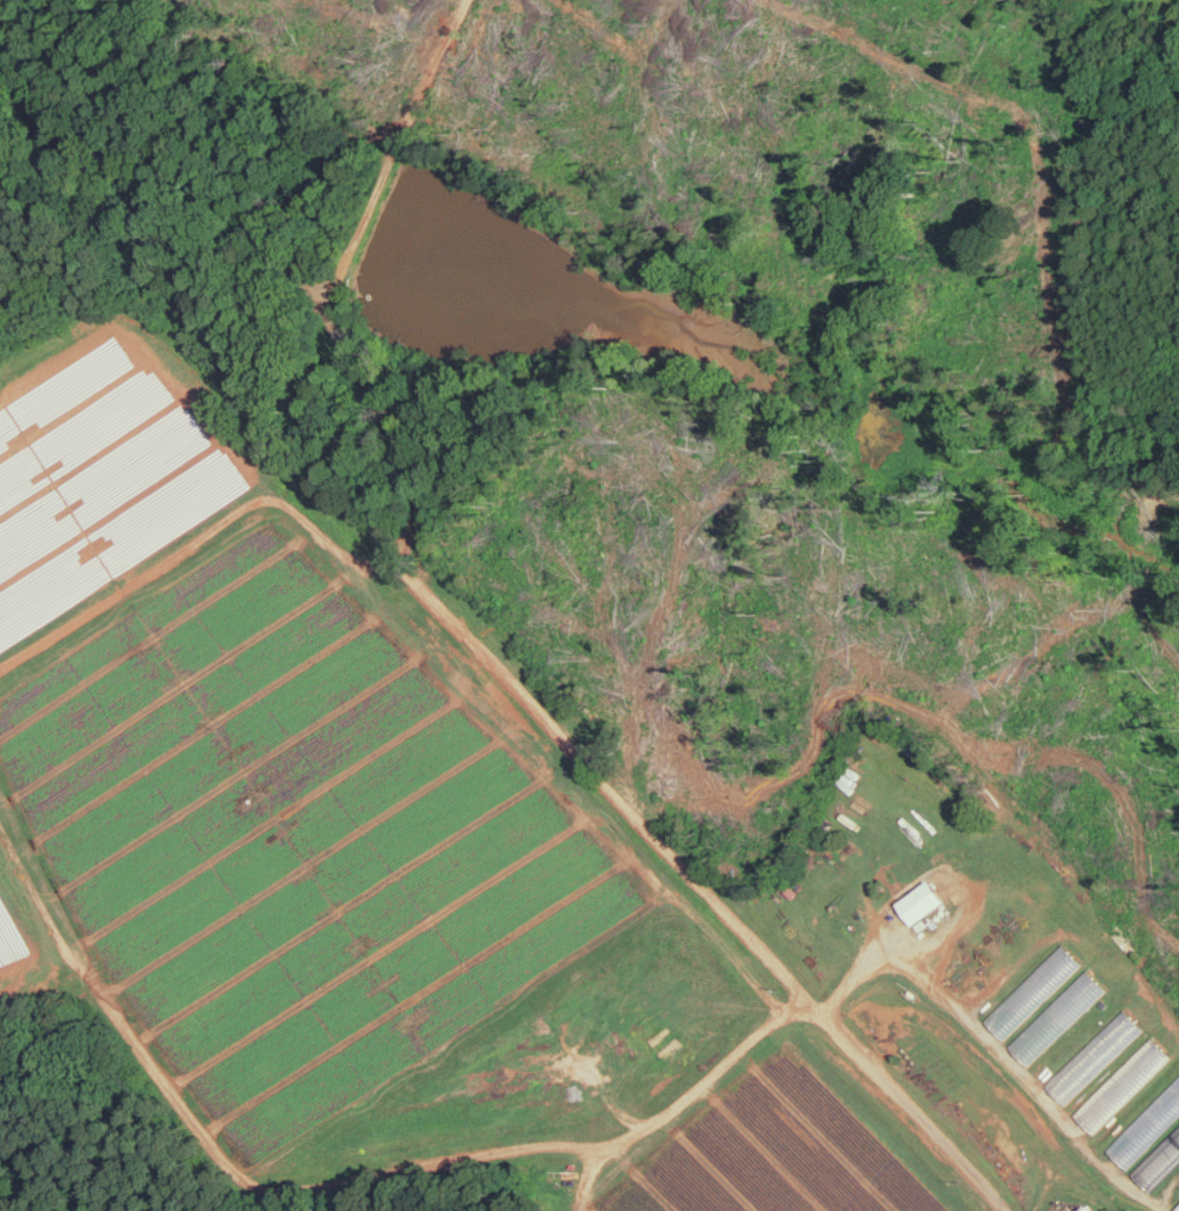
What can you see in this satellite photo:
road: (244, 76)
road: (395, 147)
building: (924, 901)
building: (1033, 989)
road: (789, 1010)
building: (1057, 1016)
building: (1095, 1054)
building: (1121, 1083)
building: (1148, 1124)
building: (1158, 1159)
building: (1088, 1209)
building: (1177, 1209)

